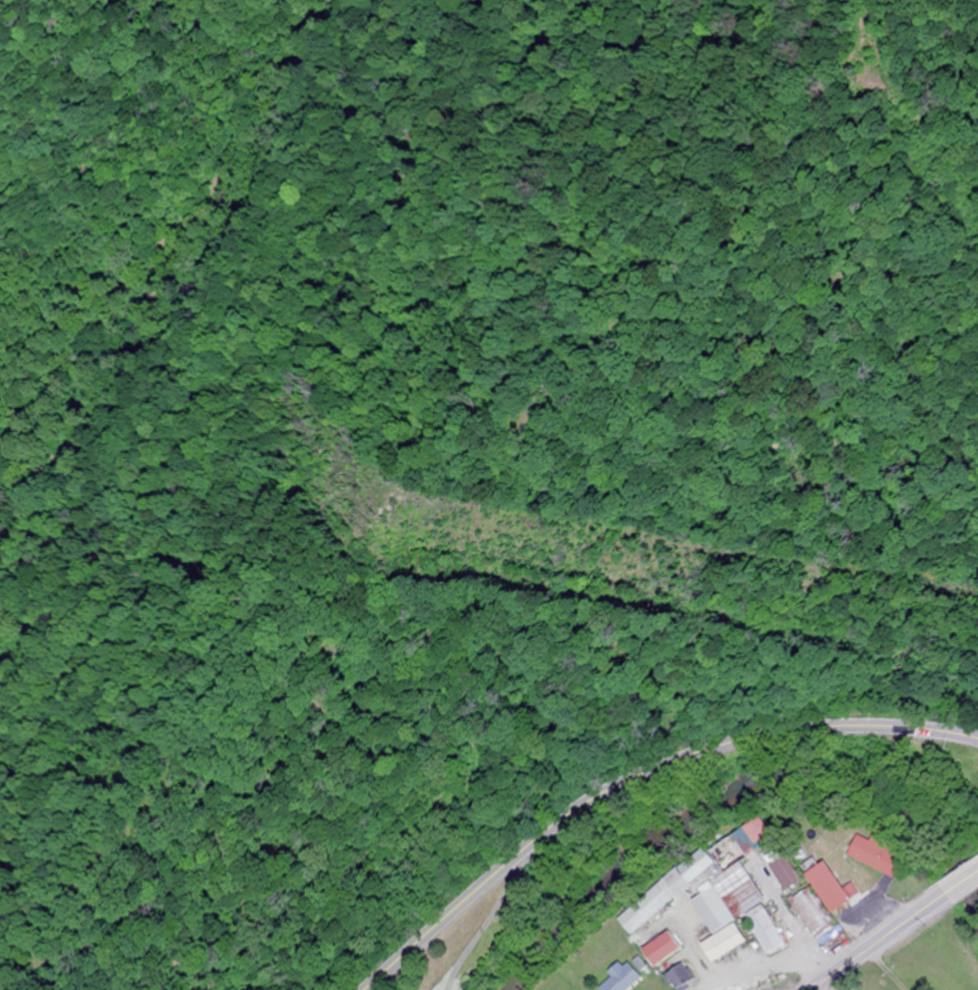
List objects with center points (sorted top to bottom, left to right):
road: (633, 772)
river: (729, 791)
building: (882, 855)
building: (705, 871)
building: (790, 874)
building: (842, 881)
road: (962, 883)
road: (492, 908)
building: (814, 911)
building: (734, 912)
building: (769, 932)
road: (878, 942)
building: (670, 949)
road: (768, 970)
building: (685, 977)
building: (627, 978)

